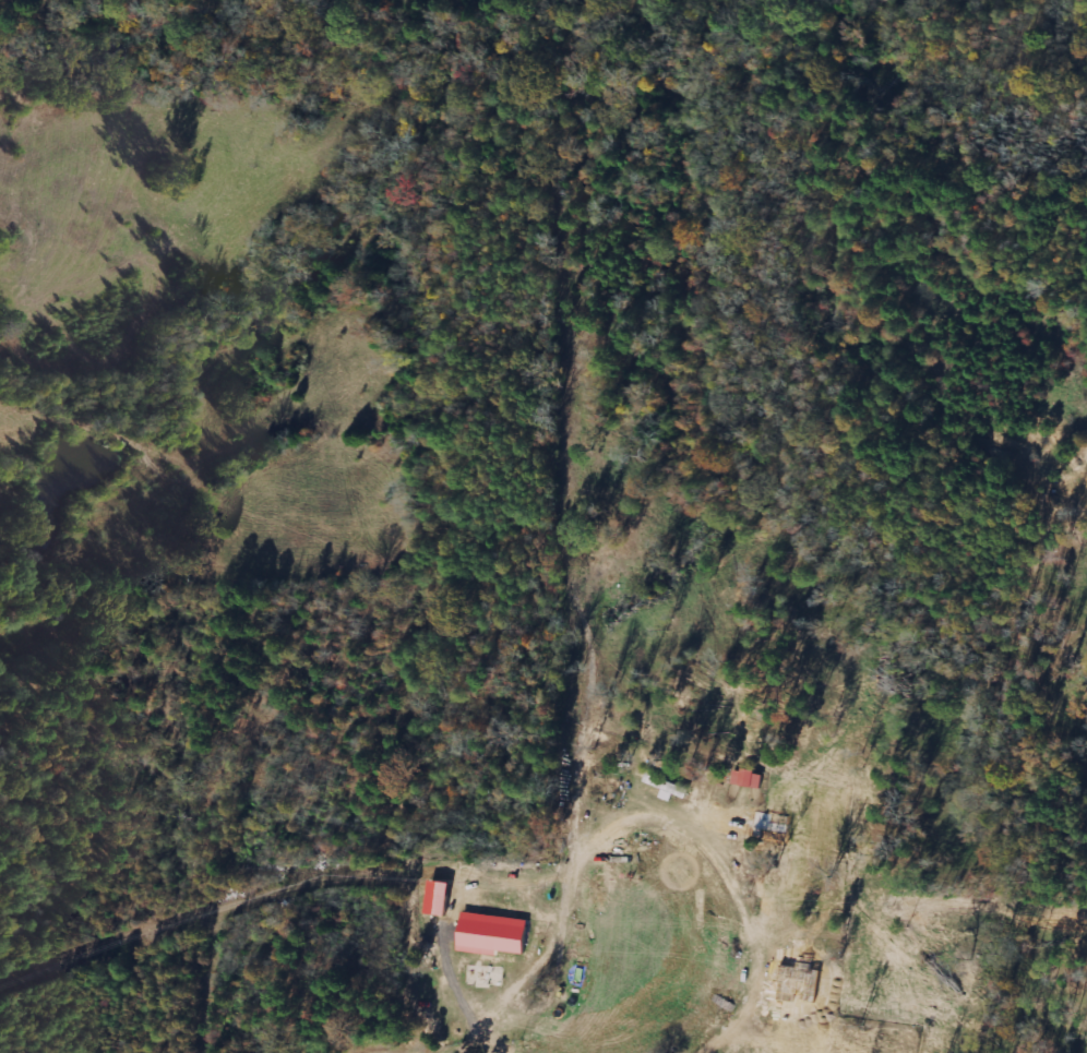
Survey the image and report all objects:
road: (837, 680)
building: (490, 934)
road: (936, 955)
building: (722, 1052)

